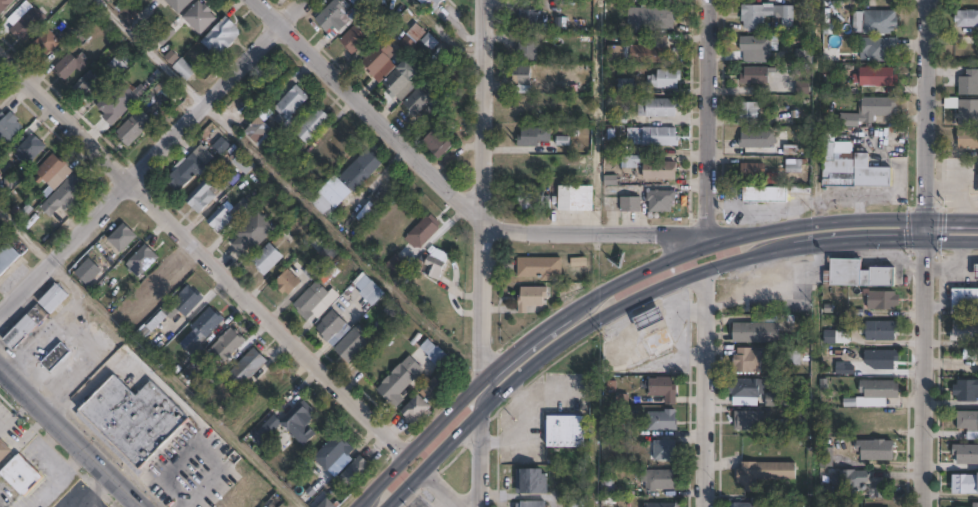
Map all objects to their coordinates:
building: (4, 4)
building: (177, 4)
building: (433, 5)
building: (358, 6)
building: (126, 11)
building: (766, 16)
building: (649, 17)
building: (199, 18)
building: (335, 18)
building: (966, 19)
building: (529, 20)
building: (875, 23)
building: (25, 25)
building: (416, 34)
building: (220, 37)
building: (353, 40)
building: (45, 43)
building: (406, 45)
building: (758, 48)
building: (879, 49)
building: (527, 50)
road: (149, 51)
building: (638, 54)
building: (804, 58)
building: (379, 60)
building: (70, 64)
building: (180, 65)
building: (450, 67)
building: (116, 72)
building: (756, 75)
building: (877, 76)
building: (665, 78)
building: (399, 83)
building: (522, 83)
building: (969, 83)
building: (85, 84)
building: (626, 84)
building: (803, 85)
building: (423, 99)
building: (0, 100)
building: (289, 105)
building: (659, 106)
road: (928, 108)
building: (749, 109)
building: (870, 110)
building: (968, 111)
road: (707, 121)
building: (259, 124)
building: (312, 125)
building: (134, 126)
building: (8, 128)
building: (625, 133)
building: (533, 136)
building: (661, 136)
building: (758, 138)
building: (967, 138)
building: (436, 141)
building: (30, 147)
building: (843, 147)
road: (150, 155)
building: (630, 161)
building: (243, 162)
building: (793, 164)
building: (190, 167)
building: (50, 168)
building: (852, 169)
building: (360, 170)
building: (659, 170)
building: (753, 171)
building: (977, 177)
road: (483, 189)
road: (450, 190)
building: (64, 194)
building: (764, 194)
building: (201, 196)
building: (575, 197)
building: (534, 199)
building: (661, 200)
building: (630, 202)
building: (321, 204)
building: (241, 209)
road: (953, 216)
traffic signals: (928, 217)
building: (220, 218)
road: (816, 219)
road: (928, 227)
building: (422, 231)
building: (253, 232)
building: (121, 237)
road: (882, 238)
traffic signals: (928, 238)
road: (953, 238)
road: (770, 246)
road: (202, 253)
building: (6, 255)
building: (267, 258)
building: (141, 260)
building: (322, 261)
building: (394, 266)
building: (428, 266)
building: (539, 267)
building: (976, 271)
building: (86, 272)
building: (857, 274)
building: (286, 281)
building: (372, 293)
building: (531, 297)
building: (52, 298)
building: (882, 299)
building: (187, 300)
building: (314, 301)
building: (965, 301)
building: (393, 310)
building: (37, 313)
building: (649, 318)
building: (332, 327)
building: (201, 328)
building: (964, 330)
building: (19, 331)
building: (881, 331)
building: (755, 332)
building: (658, 340)
building: (228, 344)
building: (351, 345)
road: (529, 349)
road: (514, 351)
building: (430, 353)
building: (794, 355)
building: (54, 356)
road: (149, 358)
building: (885, 359)
building: (747, 361)
road: (529, 363)
building: (246, 367)
road: (925, 372)
building: (398, 380)
road: (705, 387)
building: (663, 389)
building: (750, 389)
building: (966, 390)
building: (874, 393)
building: (775, 399)
building: (416, 410)
road: (16, 414)
building: (132, 418)
building: (662, 420)
building: (749, 421)
building: (299, 422)
building: (968, 422)
building: (241, 429)
building: (565, 431)
road: (72, 436)
building: (3, 450)
building: (876, 450)
building: (664, 451)
building: (332, 452)
building: (966, 454)
road: (480, 455)
building: (826, 457)
road: (51, 458)
building: (355, 472)
building: (763, 473)
building: (20, 475)
building: (658, 479)
building: (851, 480)
building: (530, 481)
building: (966, 484)
building: (607, 486)
road: (93, 489)
road: (440, 489)
building: (576, 502)
building: (326, 504)
building: (531, 504)
building: (662, 505)
building: (744, 505)
building: (976, 505)
building: (265, 506)

